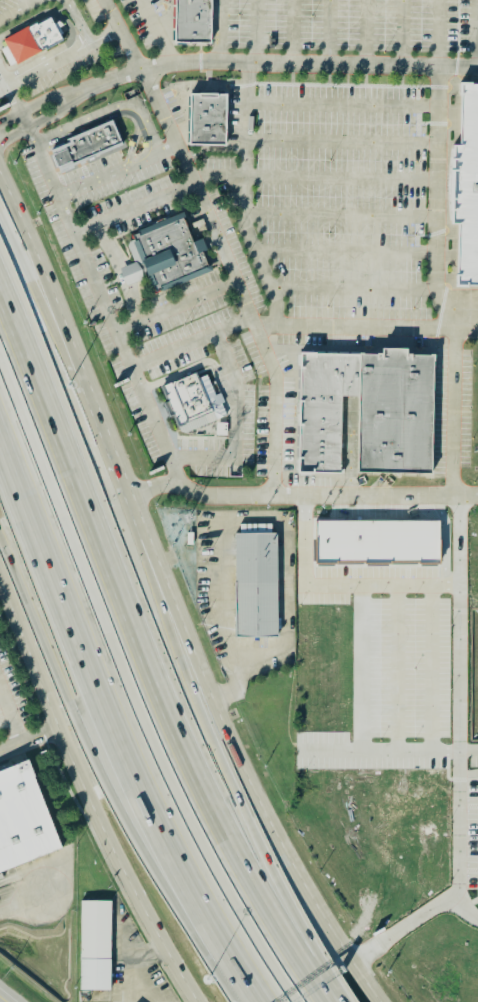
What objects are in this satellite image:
road: (13, 8)
building: (191, 23)
road: (82, 26)
road: (154, 30)
road: (222, 30)
road: (257, 31)
road: (293, 31)
road: (328, 31)
road: (367, 32)
road: (405, 32)
building: (30, 40)
road: (95, 40)
road: (292, 62)
road: (41, 68)
road: (5, 75)
road: (51, 95)
road: (13, 98)
road: (343, 105)
road: (55, 112)
road: (22, 119)
building: (206, 120)
road: (151, 127)
road: (342, 141)
building: (85, 147)
road: (167, 148)
road: (437, 166)
road: (314, 178)
building: (466, 188)
road: (246, 198)
road: (134, 207)
road: (341, 215)
road: (220, 240)
building: (168, 252)
road: (346, 254)
building: (131, 273)
road: (353, 287)
road: (107, 305)
road: (178, 305)
road: (45, 307)
road: (355, 329)
road: (194, 342)
building: (191, 401)
road: (453, 401)
building: (367, 410)
road: (235, 423)
road: (303, 497)
road: (241, 520)
building: (380, 543)
road: (1, 560)
building: (256, 582)
road: (338, 586)
road: (169, 594)
road: (145, 664)
road: (362, 669)
road: (397, 669)
road: (432, 669)
road: (110, 680)
road: (460, 696)
road: (10, 716)
road: (28, 739)
road: (379, 752)
road: (469, 752)
road: (107, 758)
road: (469, 774)
road: (88, 789)
building: (22, 822)
road: (267, 859)
road: (21, 904)
road: (416, 920)
building: (96, 945)
road: (237, 975)
road: (3, 998)

